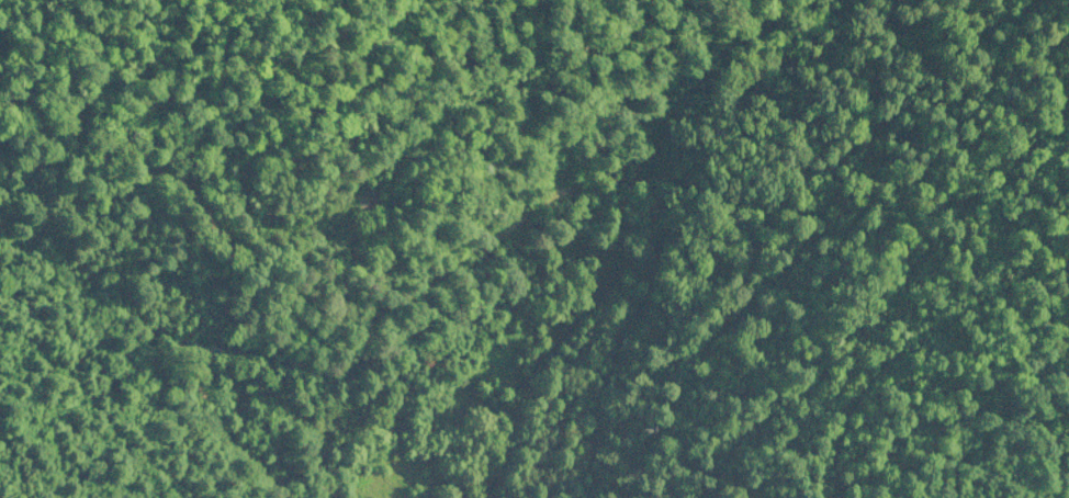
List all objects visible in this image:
road: (214, 55)
road: (635, 103)
road: (167, 195)
road: (491, 269)

